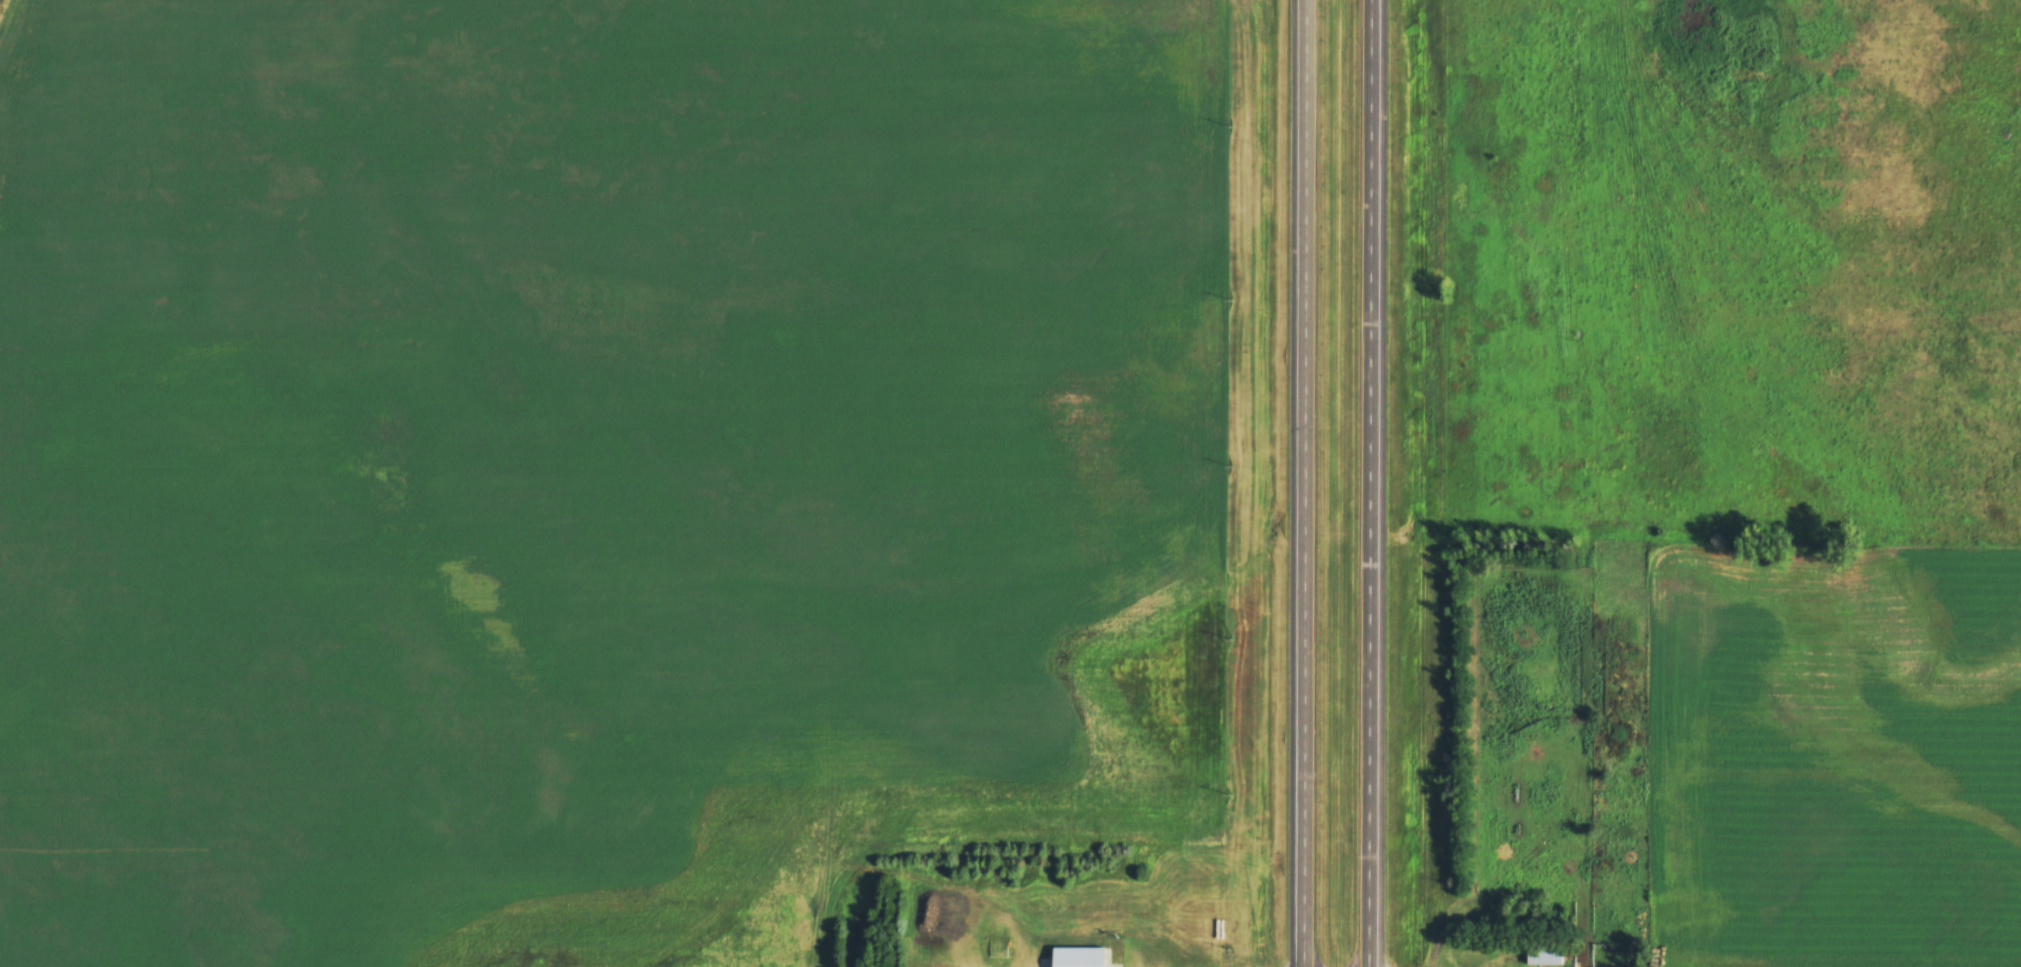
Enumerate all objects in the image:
road: (1308, 483)
road: (1374, 483)
building: (1544, 954)
building: (1081, 956)

